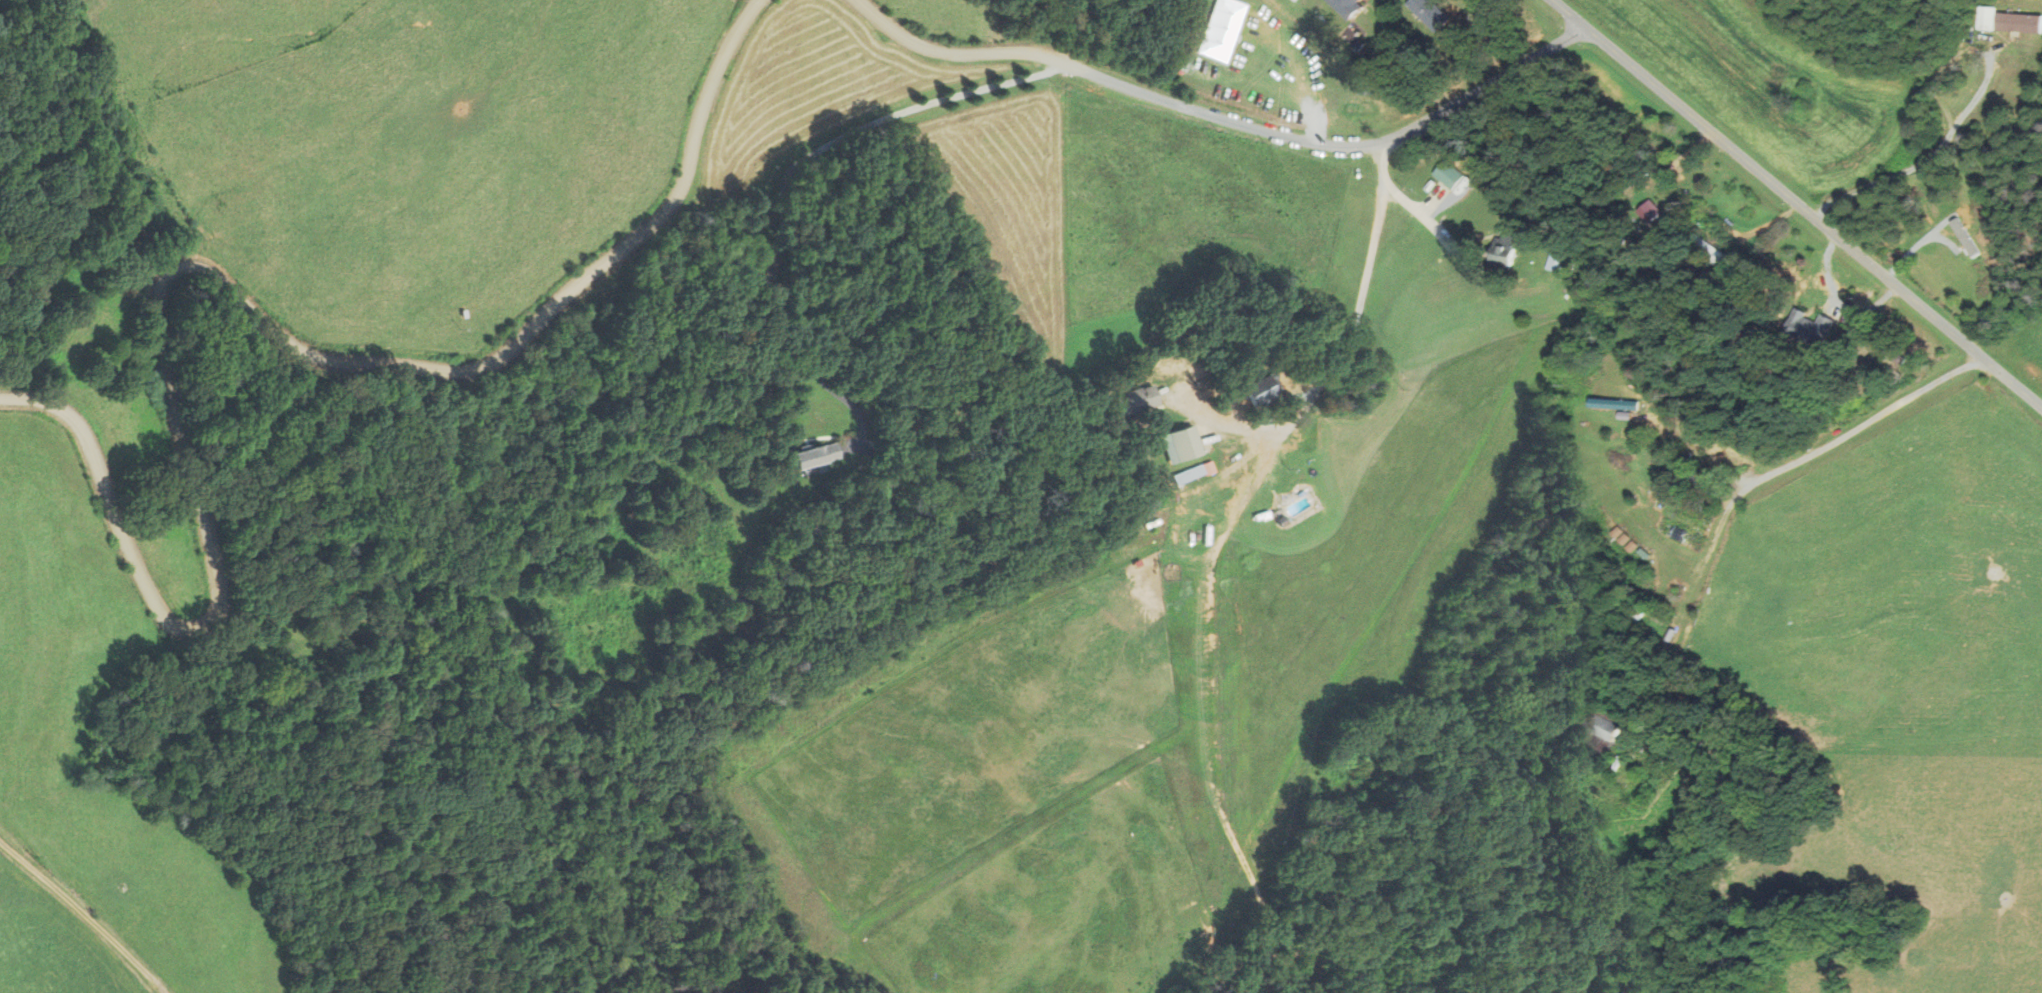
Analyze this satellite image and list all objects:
building: (1346, 7)
building: (1427, 13)
building: (2007, 21)
road: (976, 55)
road: (1359, 147)
road: (780, 172)
building: (1443, 175)
road: (1794, 199)
building: (1706, 249)
building: (1499, 251)
road: (1368, 255)
building: (1551, 263)
road: (221, 280)
building: (1804, 328)
building: (1884, 349)
building: (1262, 391)
building: (1133, 401)
road: (1873, 417)
building: (1181, 445)
building: (813, 455)
building: (1193, 473)
building: (1689, 477)
building: (1622, 627)
building: (1596, 736)
road: (81, 917)

